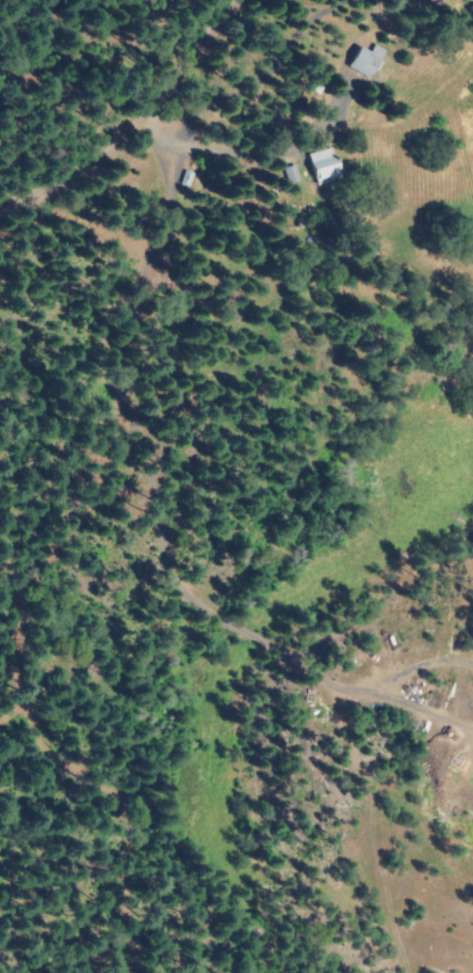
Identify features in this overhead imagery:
building: (362, 59)
road: (129, 121)
building: (319, 164)
building: (285, 172)
building: (182, 178)

